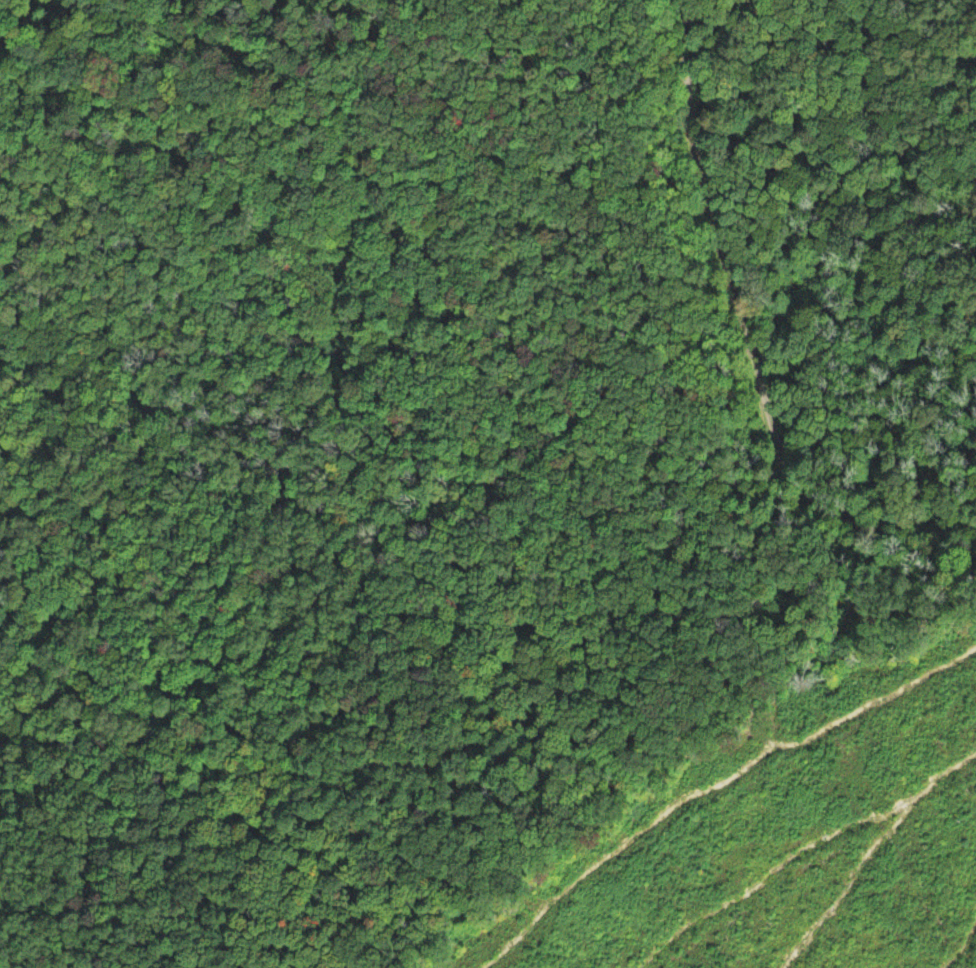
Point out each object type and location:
road: (753, 333)

